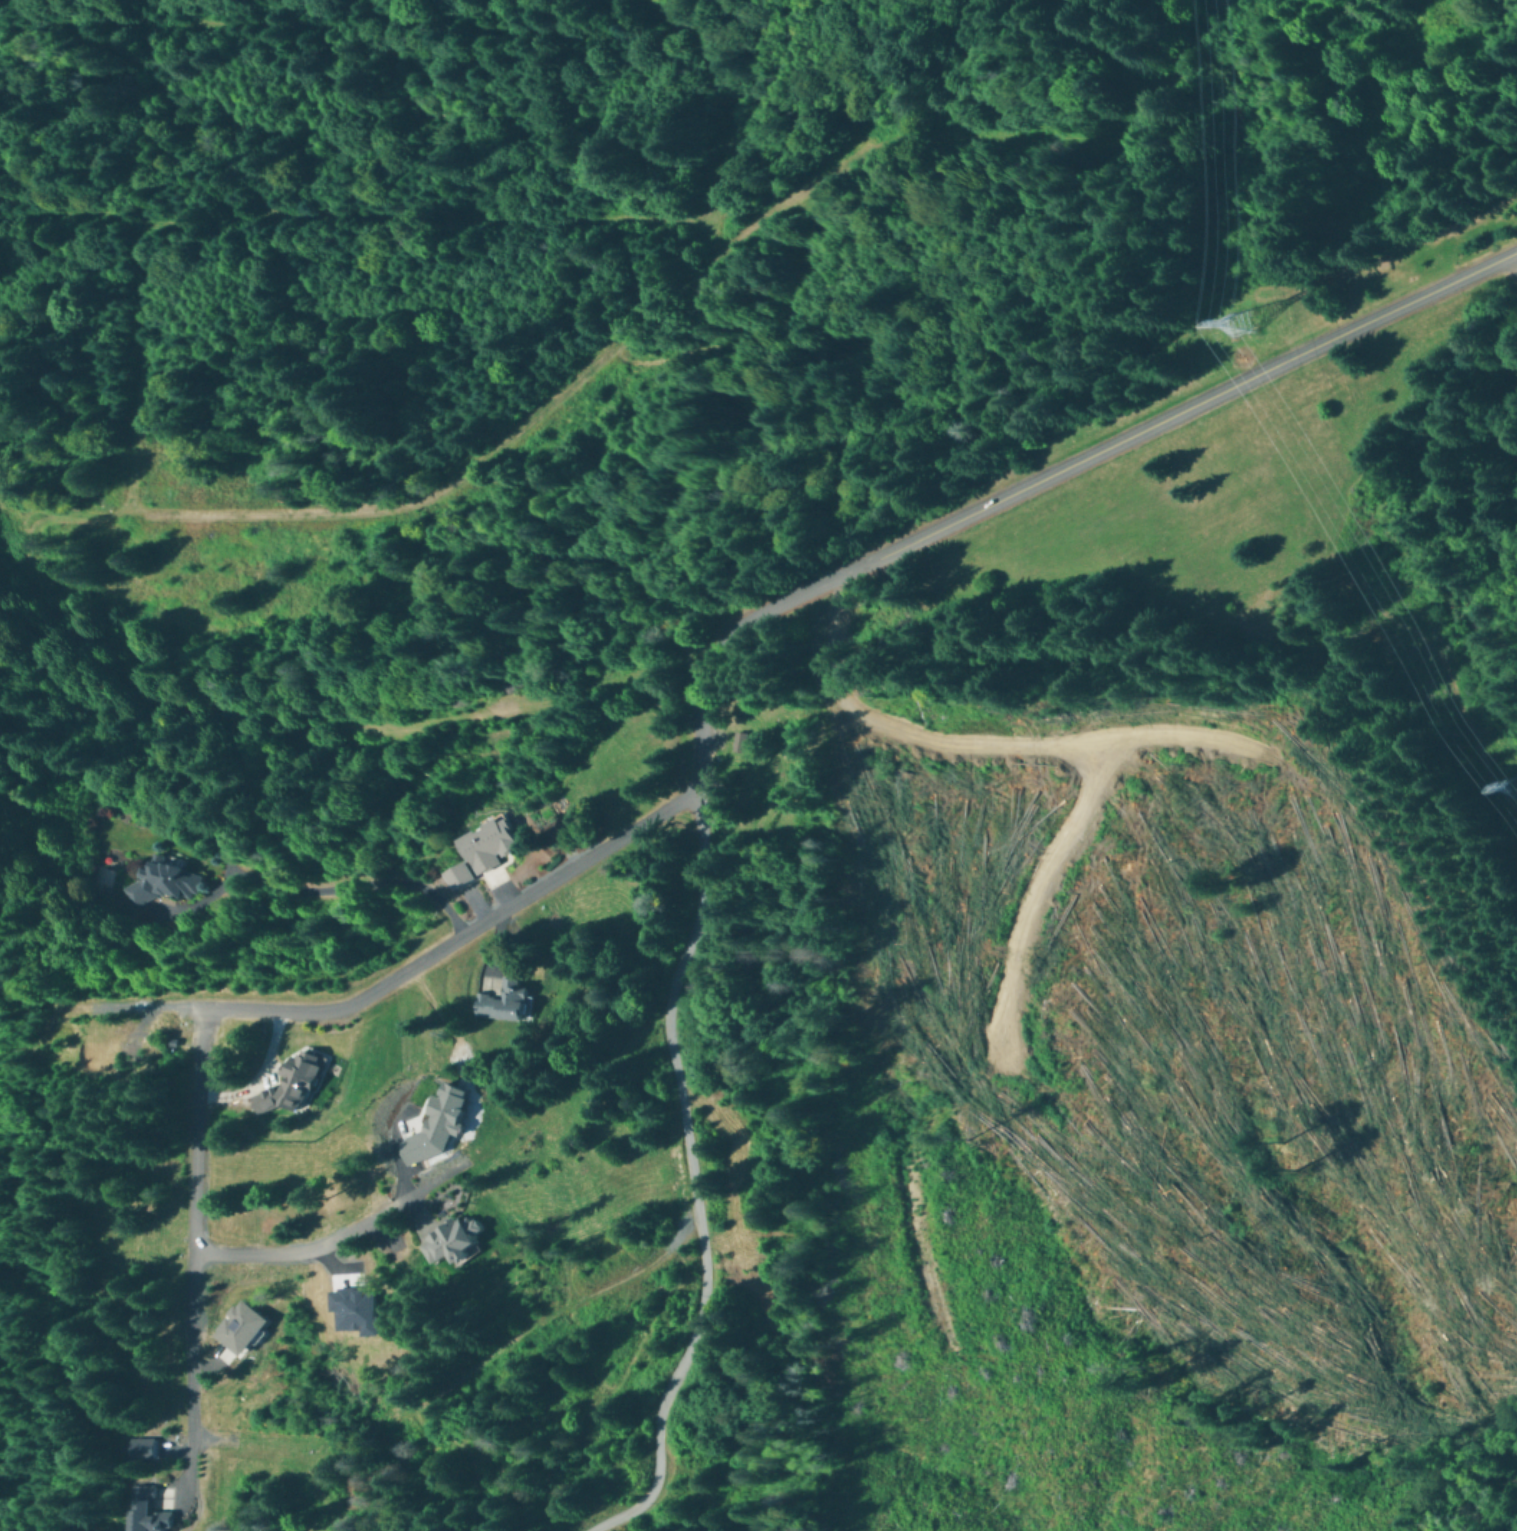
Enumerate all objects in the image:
road: (363, 220)
road: (689, 275)
power tower: (1230, 323)
road: (1201, 401)
road: (244, 715)
power tower: (1491, 788)
building: (487, 854)
building: (170, 886)
road: (319, 893)
road: (401, 974)
building: (506, 1004)
road: (673, 1010)
road: (342, 1238)
road: (197, 1243)
building: (455, 1245)
building: (152, 1513)

